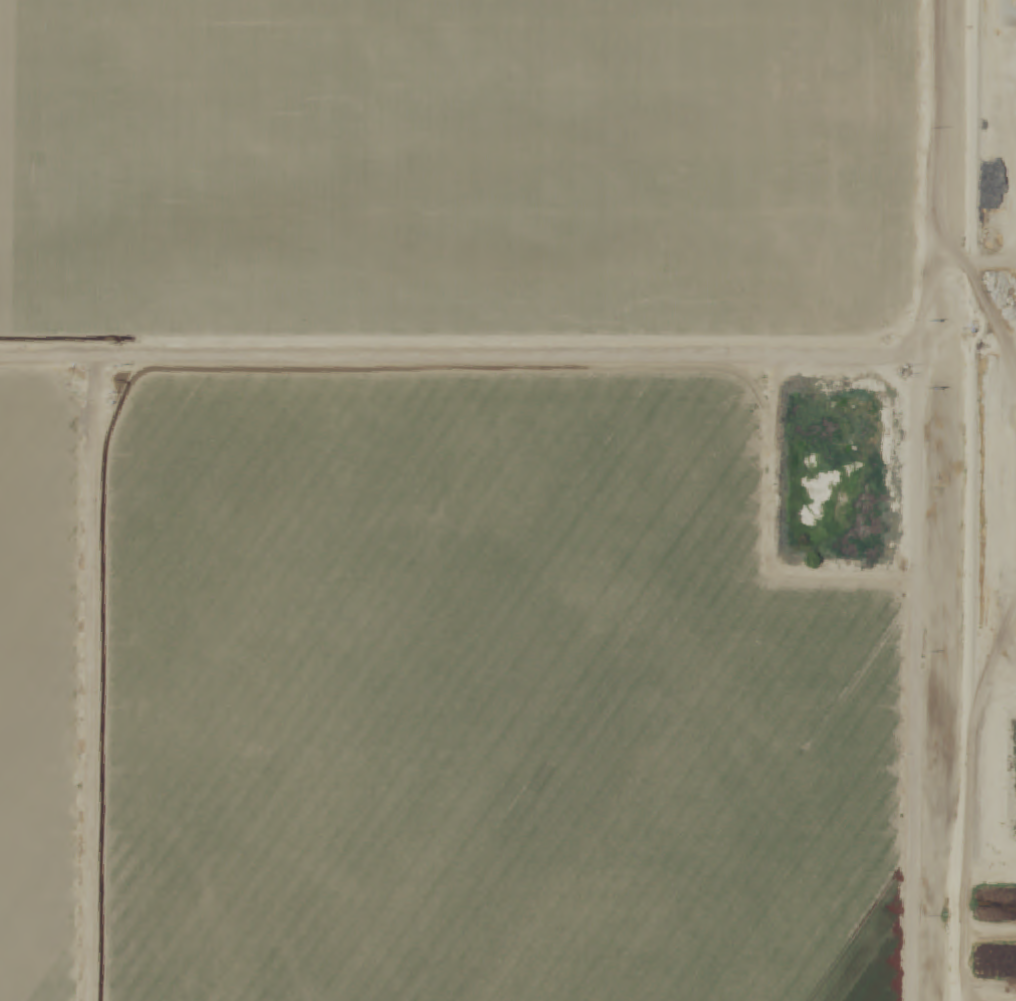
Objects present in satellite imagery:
building: (1011, 3)
road: (918, 500)

